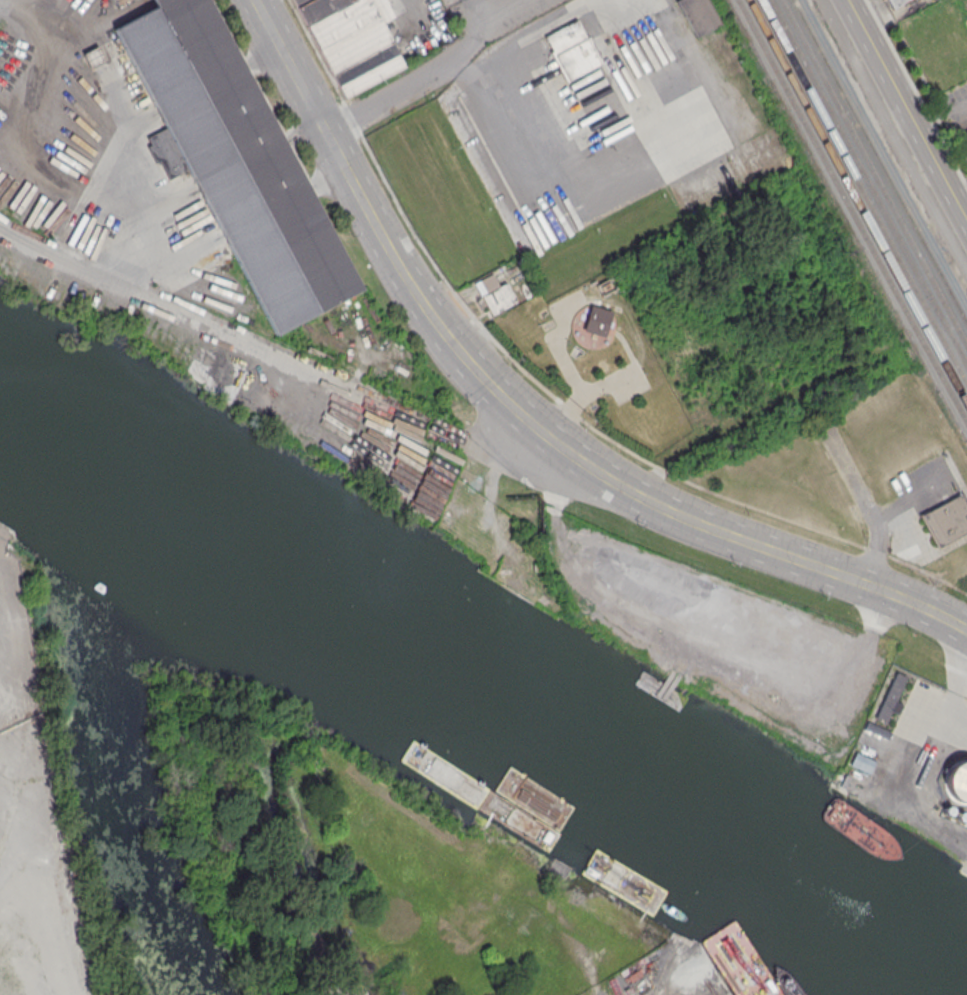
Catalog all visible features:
building: (895, 2)
road: (3, 6)
road: (478, 12)
road: (43, 15)
building: (698, 16)
road: (421, 36)
building: (352, 41)
building: (571, 50)
road: (435, 74)
road: (906, 111)
road: (683, 126)
road: (93, 133)
building: (963, 136)
building: (231, 160)
railway: (879, 162)
railway: (874, 170)
railway: (868, 184)
railway: (864, 192)
railway: (856, 201)
railway: (851, 211)
power tower: (839, 246)
road: (409, 286)
building: (494, 295)
building: (596, 321)
road: (319, 373)
road: (858, 494)
building: (947, 522)
road: (809, 562)
river: (483, 665)
building: (891, 697)
building: (957, 782)
road: (344, 993)

